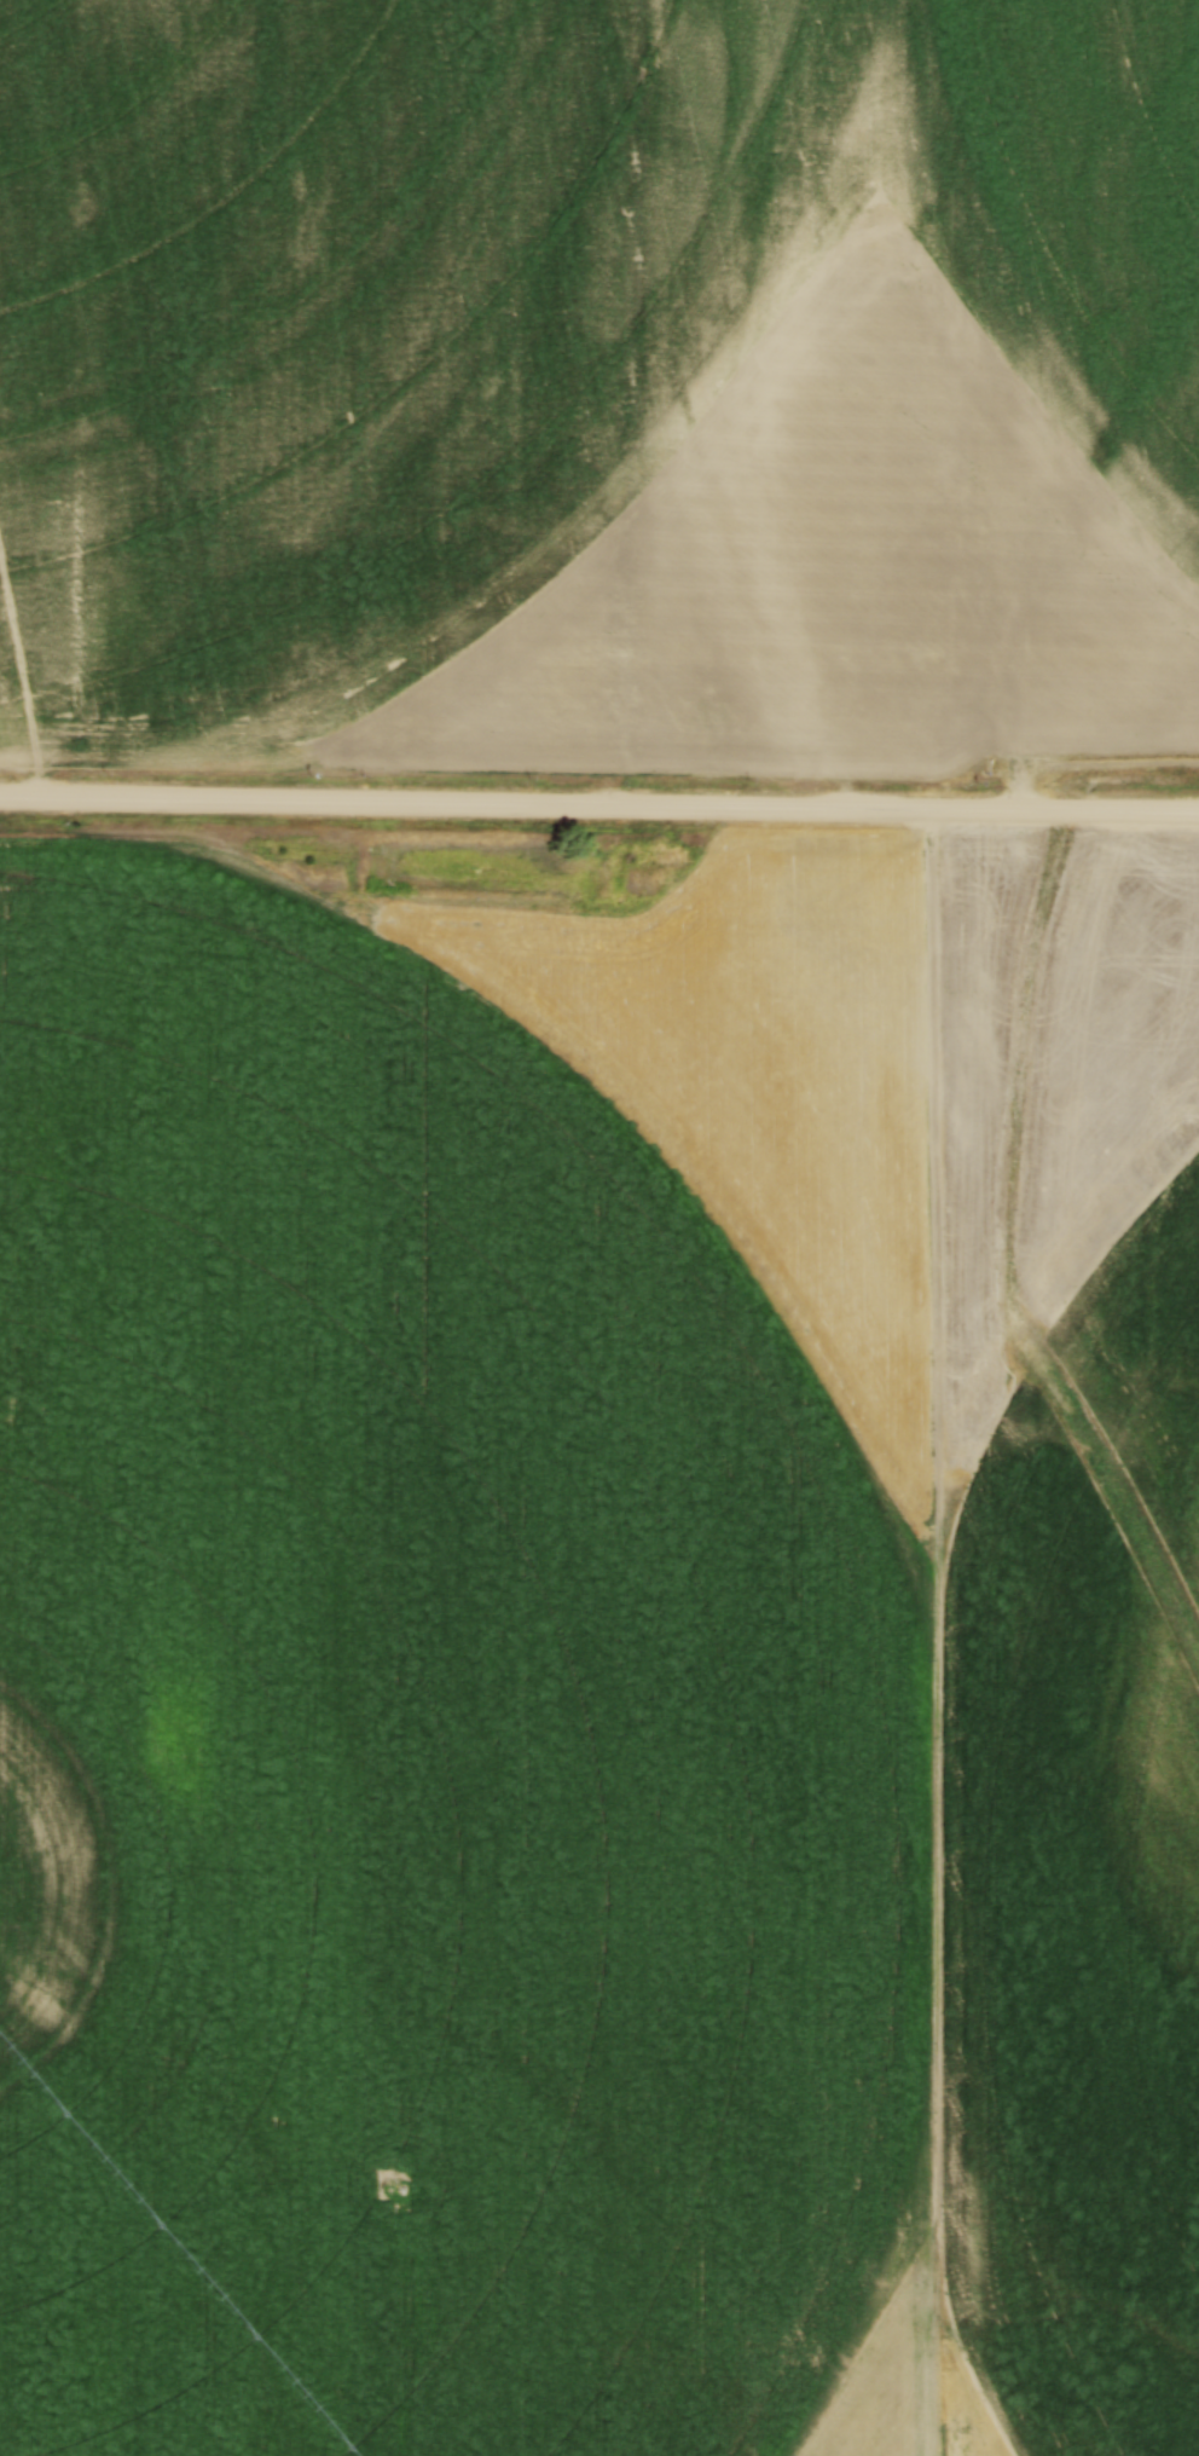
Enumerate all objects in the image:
crop: (599, 382)
road: (598, 810)
crop: (598, 1660)

